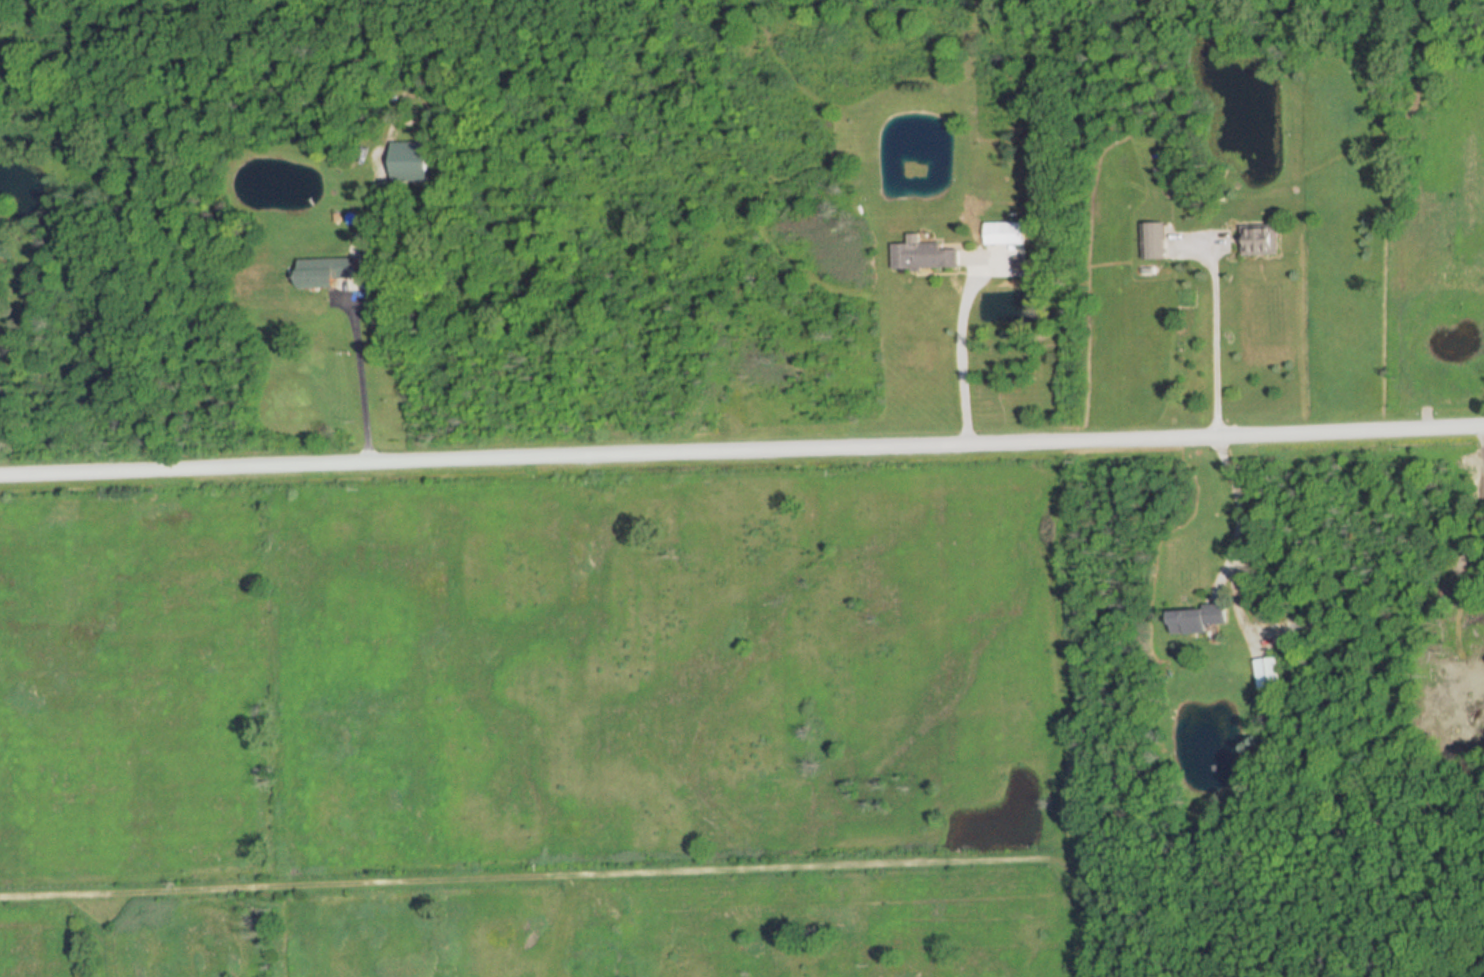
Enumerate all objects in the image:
building: (1004, 234)
building: (1260, 240)
building: (1153, 241)
building: (924, 256)
building: (329, 273)
road: (1209, 332)
road: (955, 346)
road: (359, 387)
road: (742, 457)
road: (1236, 509)
building: (1196, 619)
building: (1266, 672)

